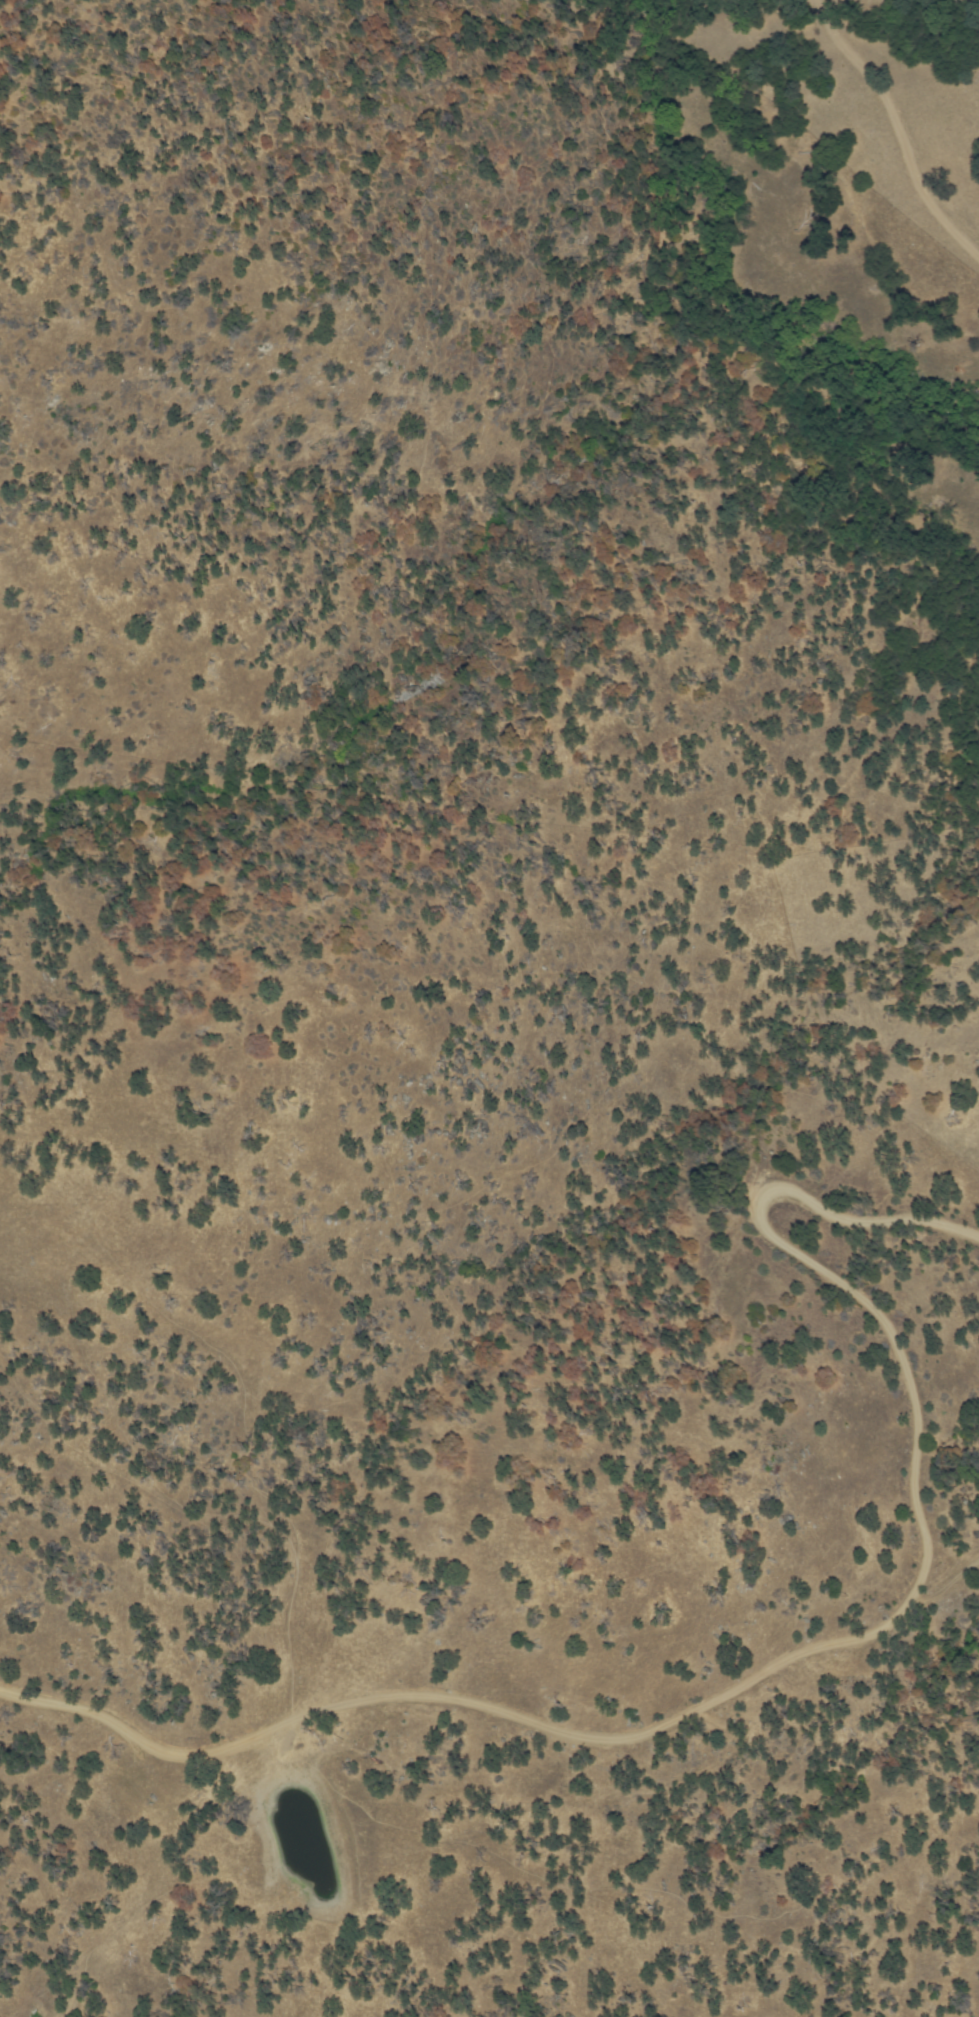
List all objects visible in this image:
road: (901, 126)
road: (793, 1660)

